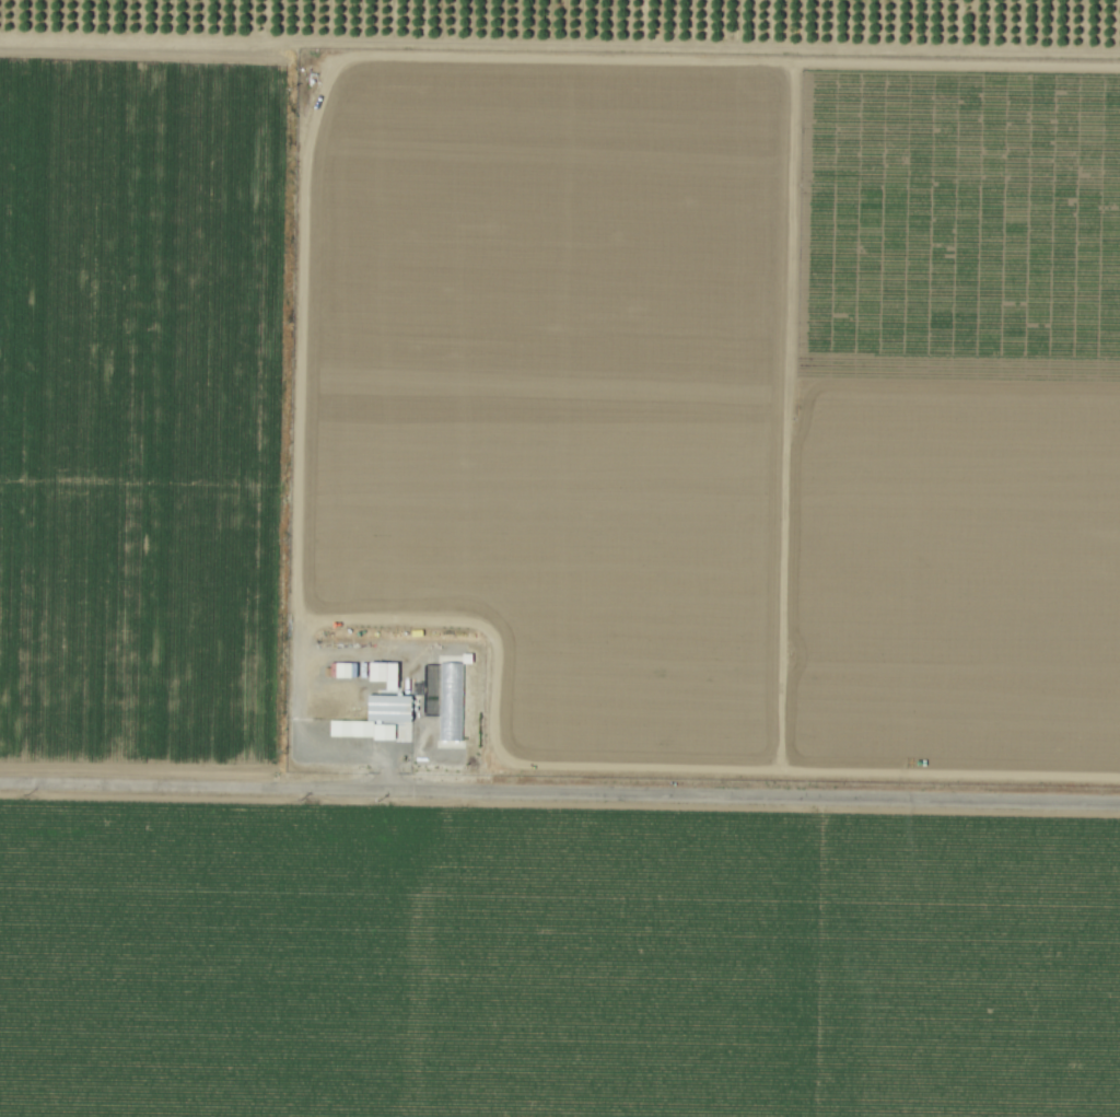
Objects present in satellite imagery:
building: (383, 673)
building: (448, 701)
building: (374, 718)
road: (315, 740)
road: (560, 791)

